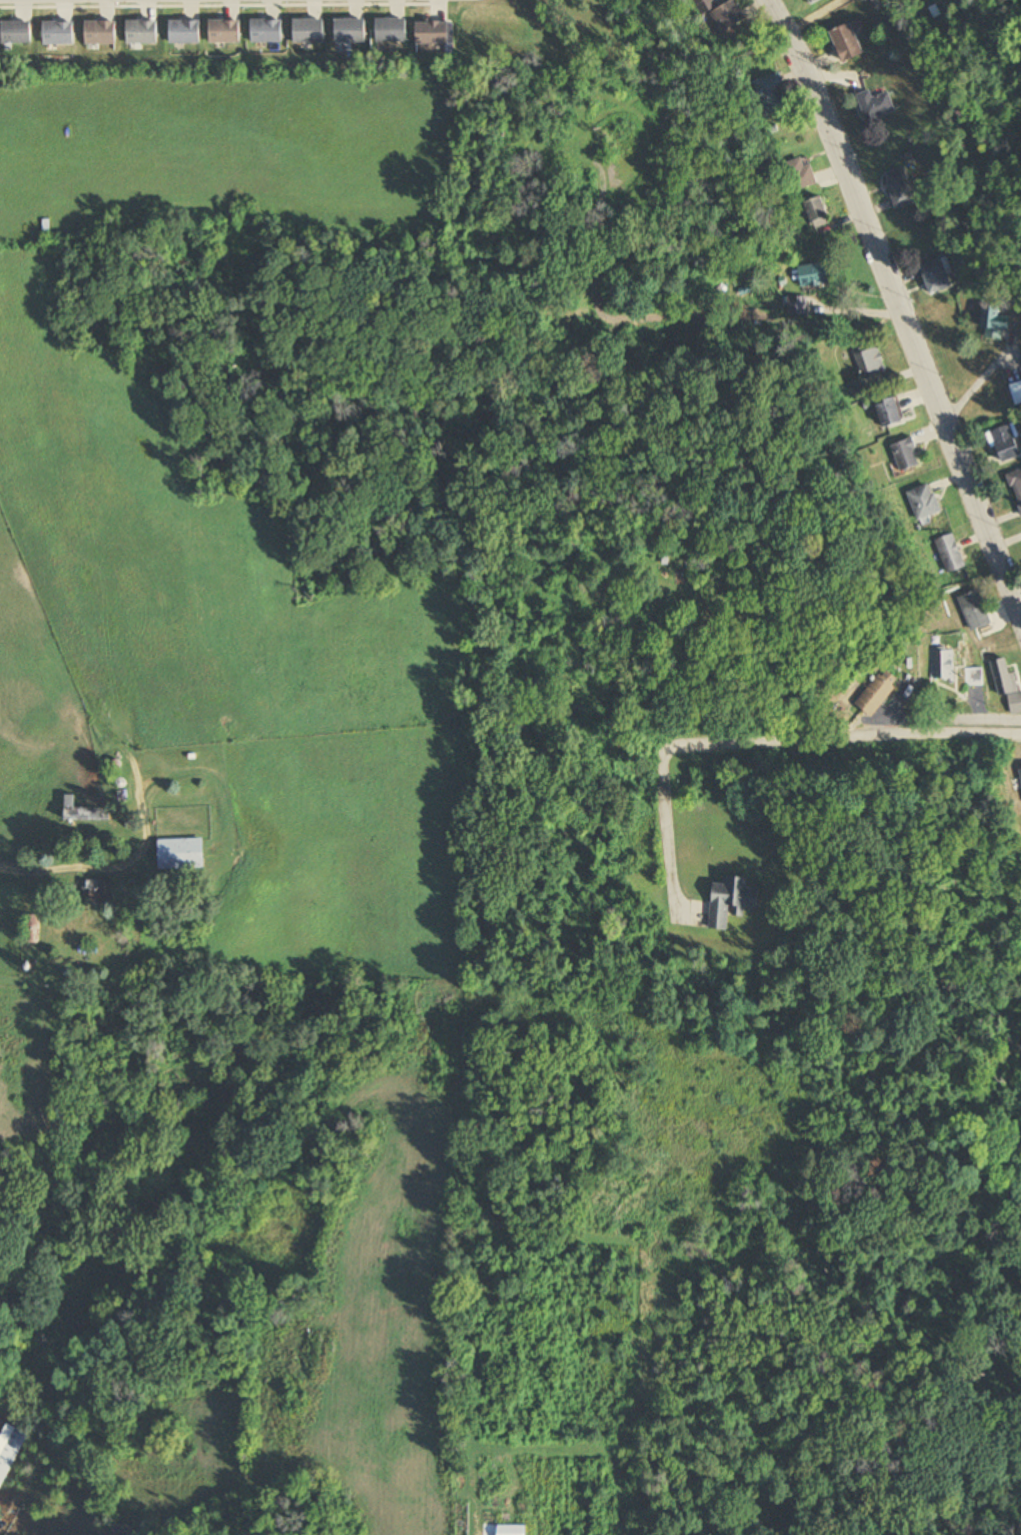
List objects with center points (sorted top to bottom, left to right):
building: (812, 1)
building: (705, 5)
building: (728, 16)
building: (266, 30)
building: (308, 30)
building: (349, 30)
building: (390, 30)
building: (184, 31)
building: (224, 31)
building: (16, 32)
building: (58, 32)
building: (100, 32)
building: (142, 32)
building: (432, 32)
building: (847, 43)
building: (771, 94)
building: (875, 105)
building: (801, 173)
building: (900, 188)
building: (819, 212)
building: (818, 275)
building: (936, 276)
building: (796, 306)
road: (896, 308)
building: (994, 319)
building: (870, 362)
building: (1017, 393)
building: (890, 413)
building: (1005, 444)
building: (906, 455)
building: (1016, 486)
building: (925, 503)
building: (951, 554)
building: (976, 611)
building: (944, 666)
building: (1004, 677)
building: (880, 692)
road: (762, 745)
building: (84, 812)
building: (182, 854)
road: (60, 867)
building: (97, 892)
building: (732, 901)
building: (32, 929)
building: (8, 1448)

